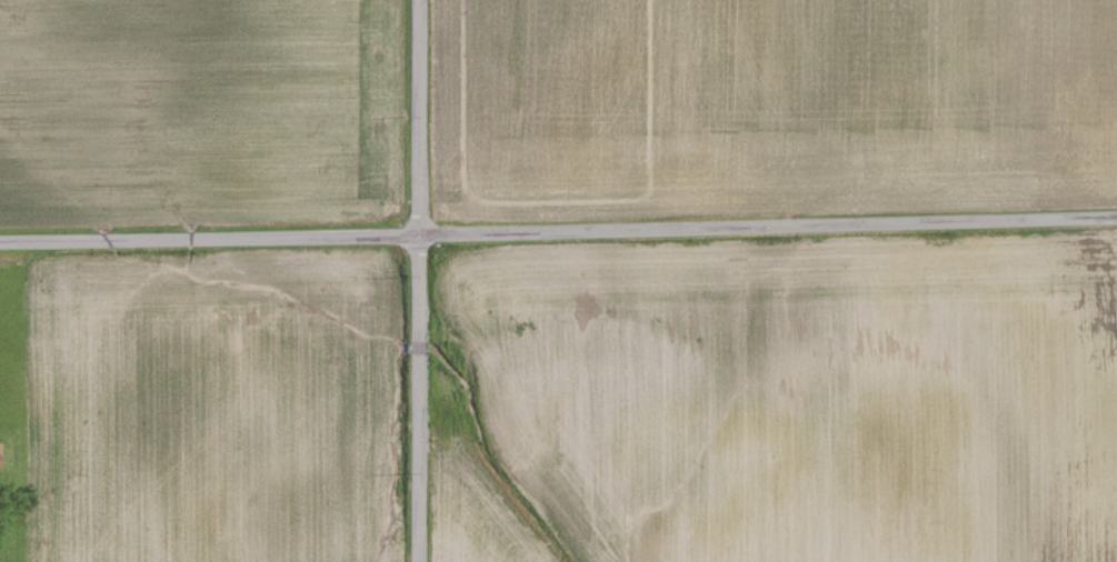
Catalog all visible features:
crop: (767, 109)
road: (558, 231)
road: (418, 280)

